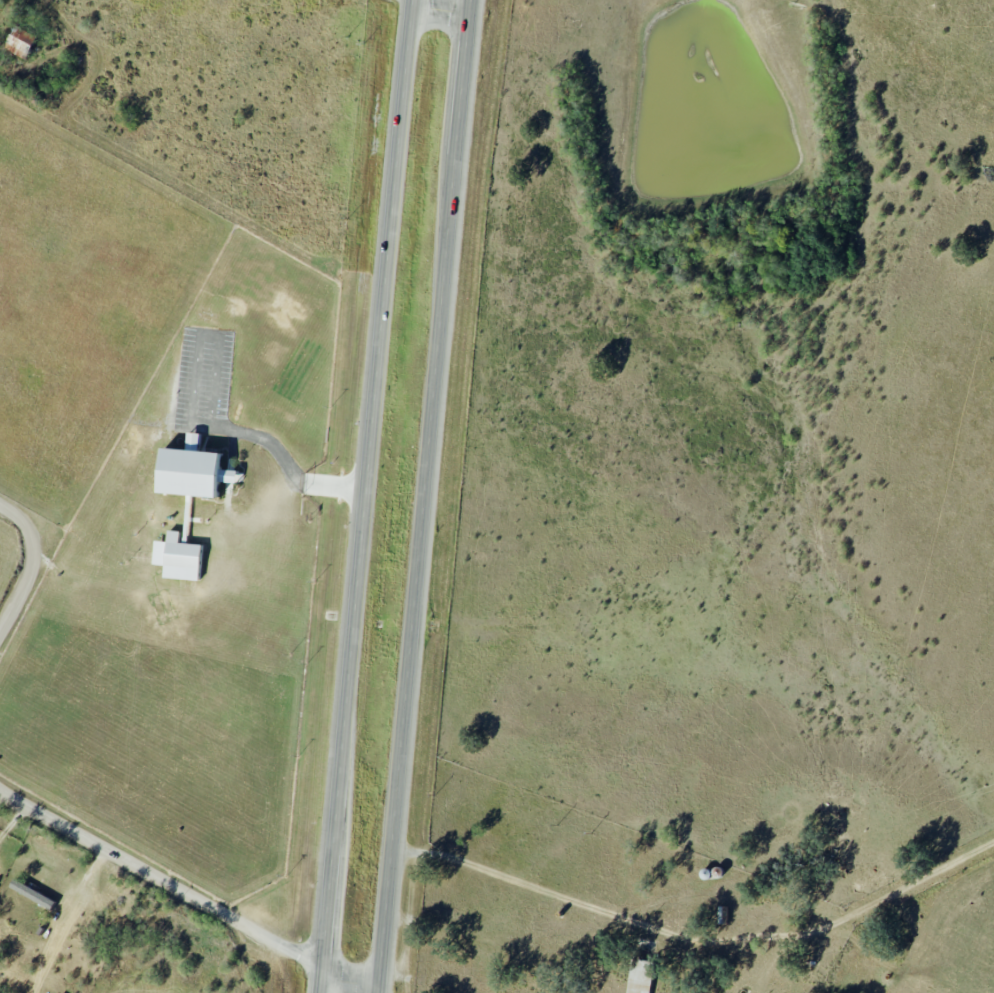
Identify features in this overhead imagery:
road: (442, 8)
building: (20, 42)
road: (284, 460)
building: (191, 470)
road: (366, 496)
road: (424, 496)
road: (9, 555)
building: (177, 557)
road: (524, 882)
road: (181, 890)
building: (722, 915)
road: (64, 918)

